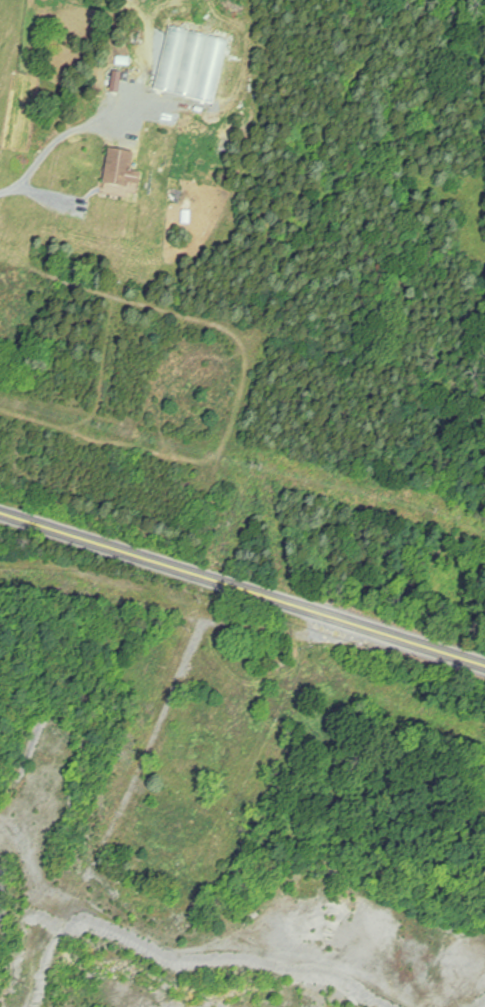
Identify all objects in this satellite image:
building: (124, 170)
road: (9, 191)
road: (242, 587)
quarry: (210, 881)
road: (204, 951)

